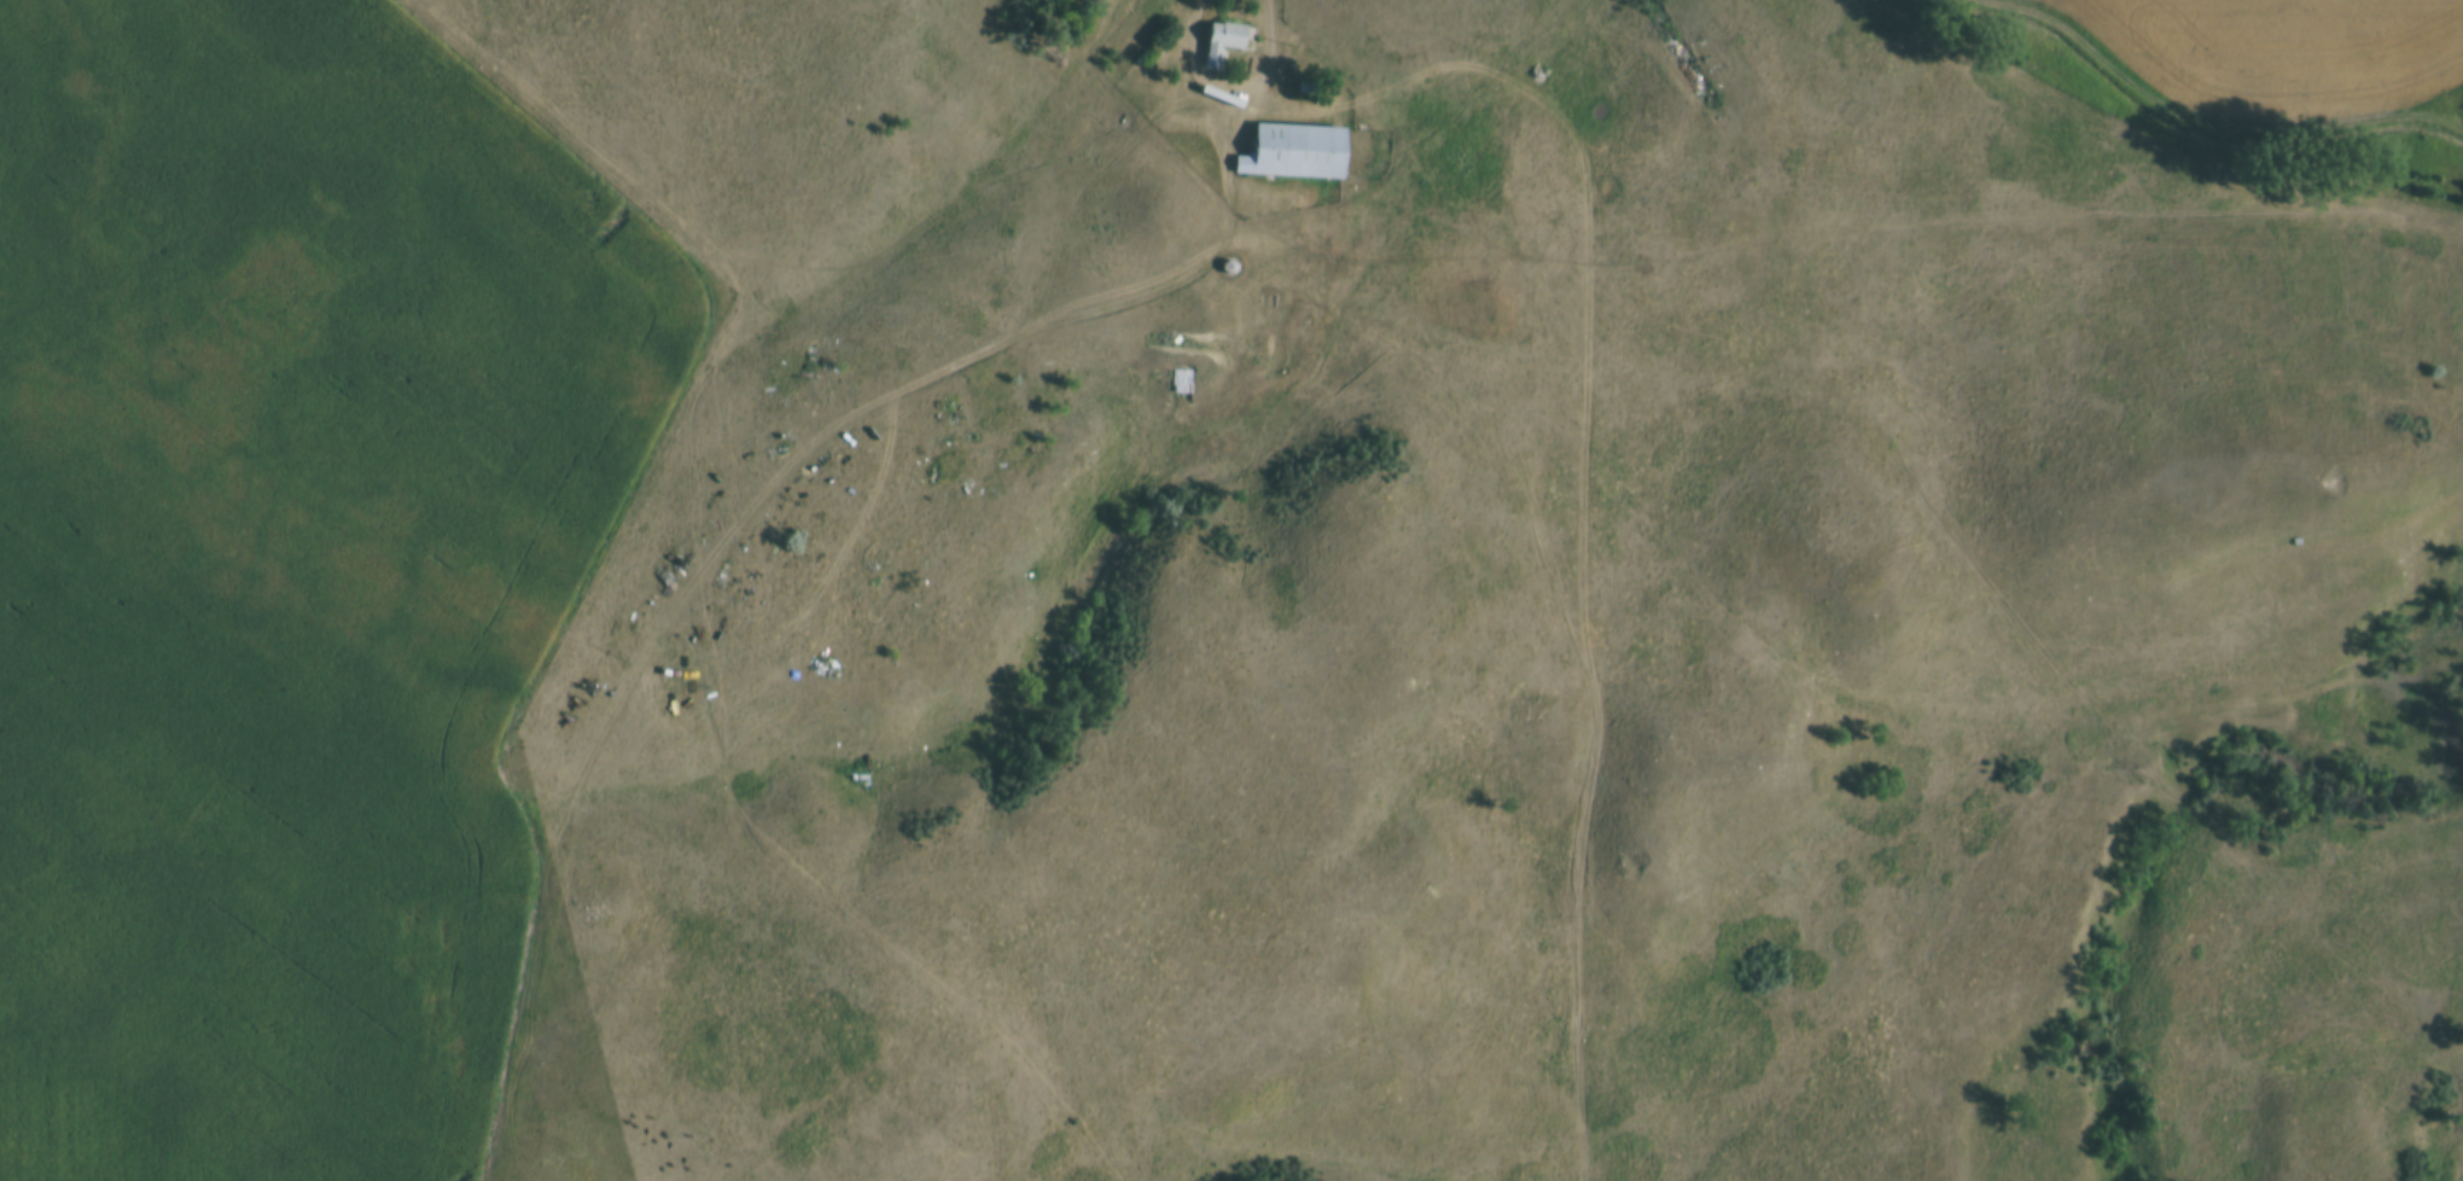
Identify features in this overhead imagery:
building: (1222, 45)
road: (1229, 88)
building: (1293, 152)
road: (1577, 489)

